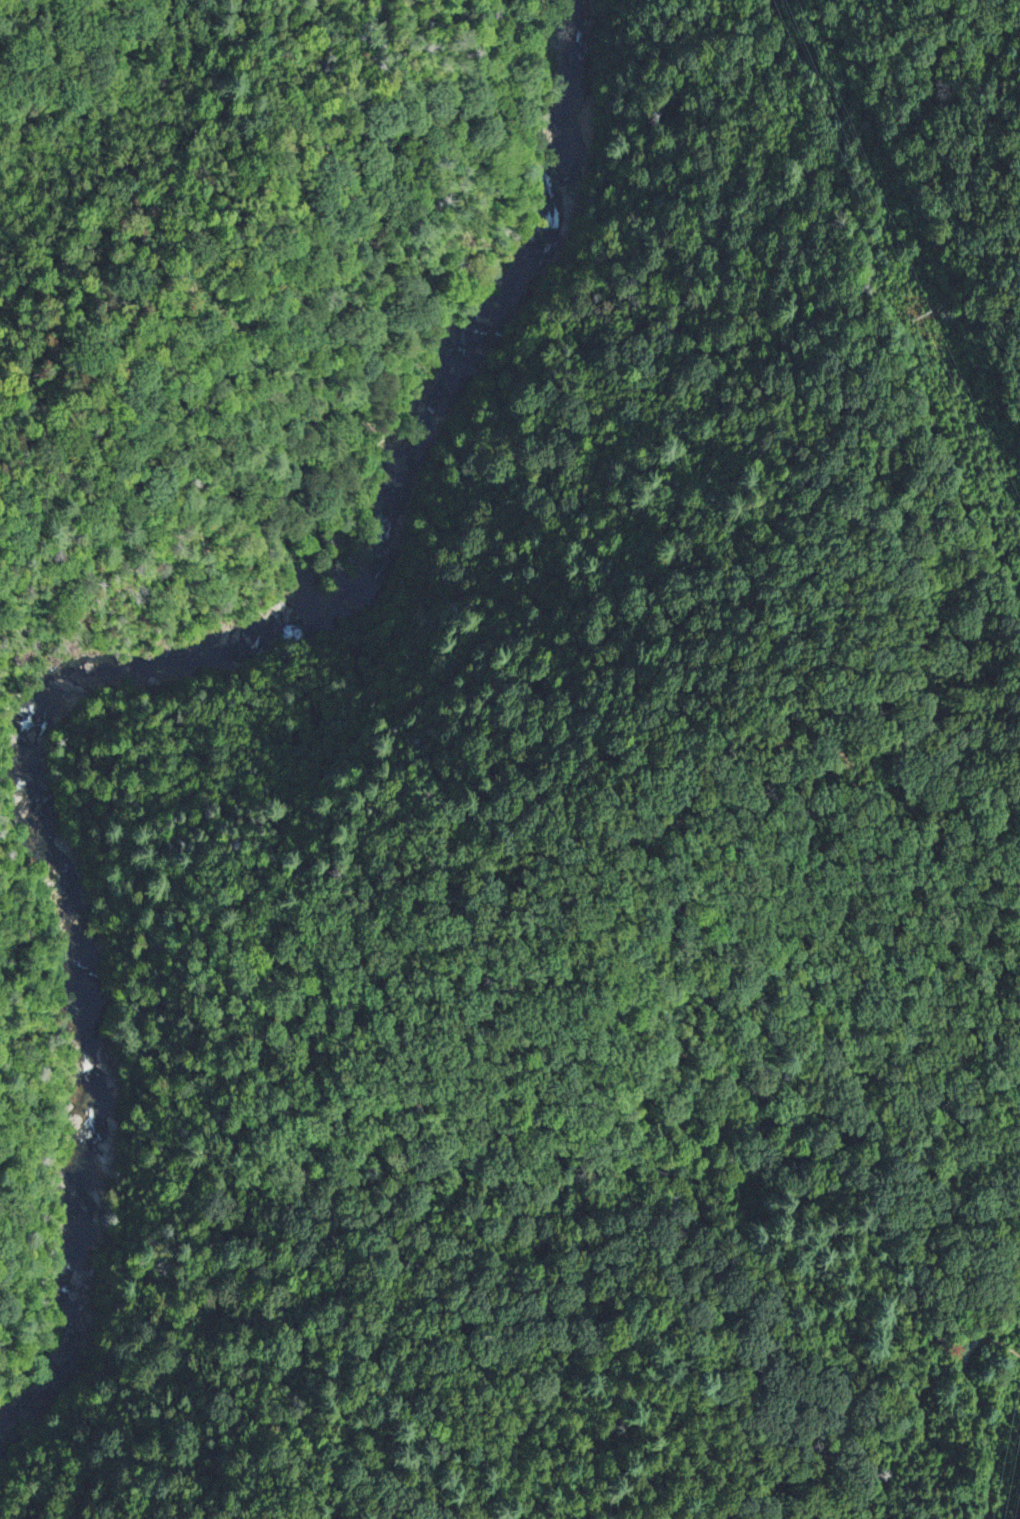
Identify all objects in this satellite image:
power tower: (919, 312)
river: (376, 549)
river: (85, 1013)
river: (78, 1286)

